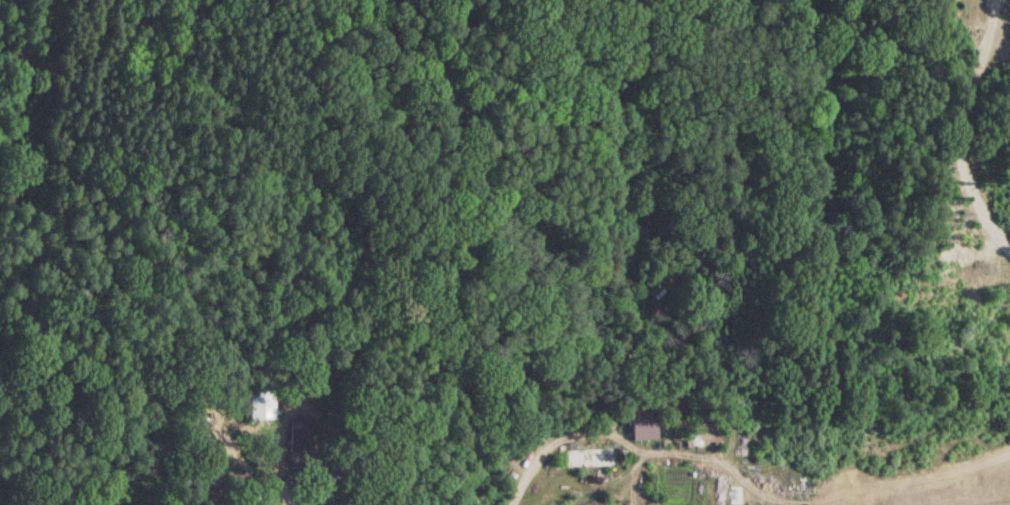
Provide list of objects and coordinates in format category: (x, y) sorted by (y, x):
building: (257, 401)
building: (642, 424)
building: (692, 437)
building: (588, 457)

